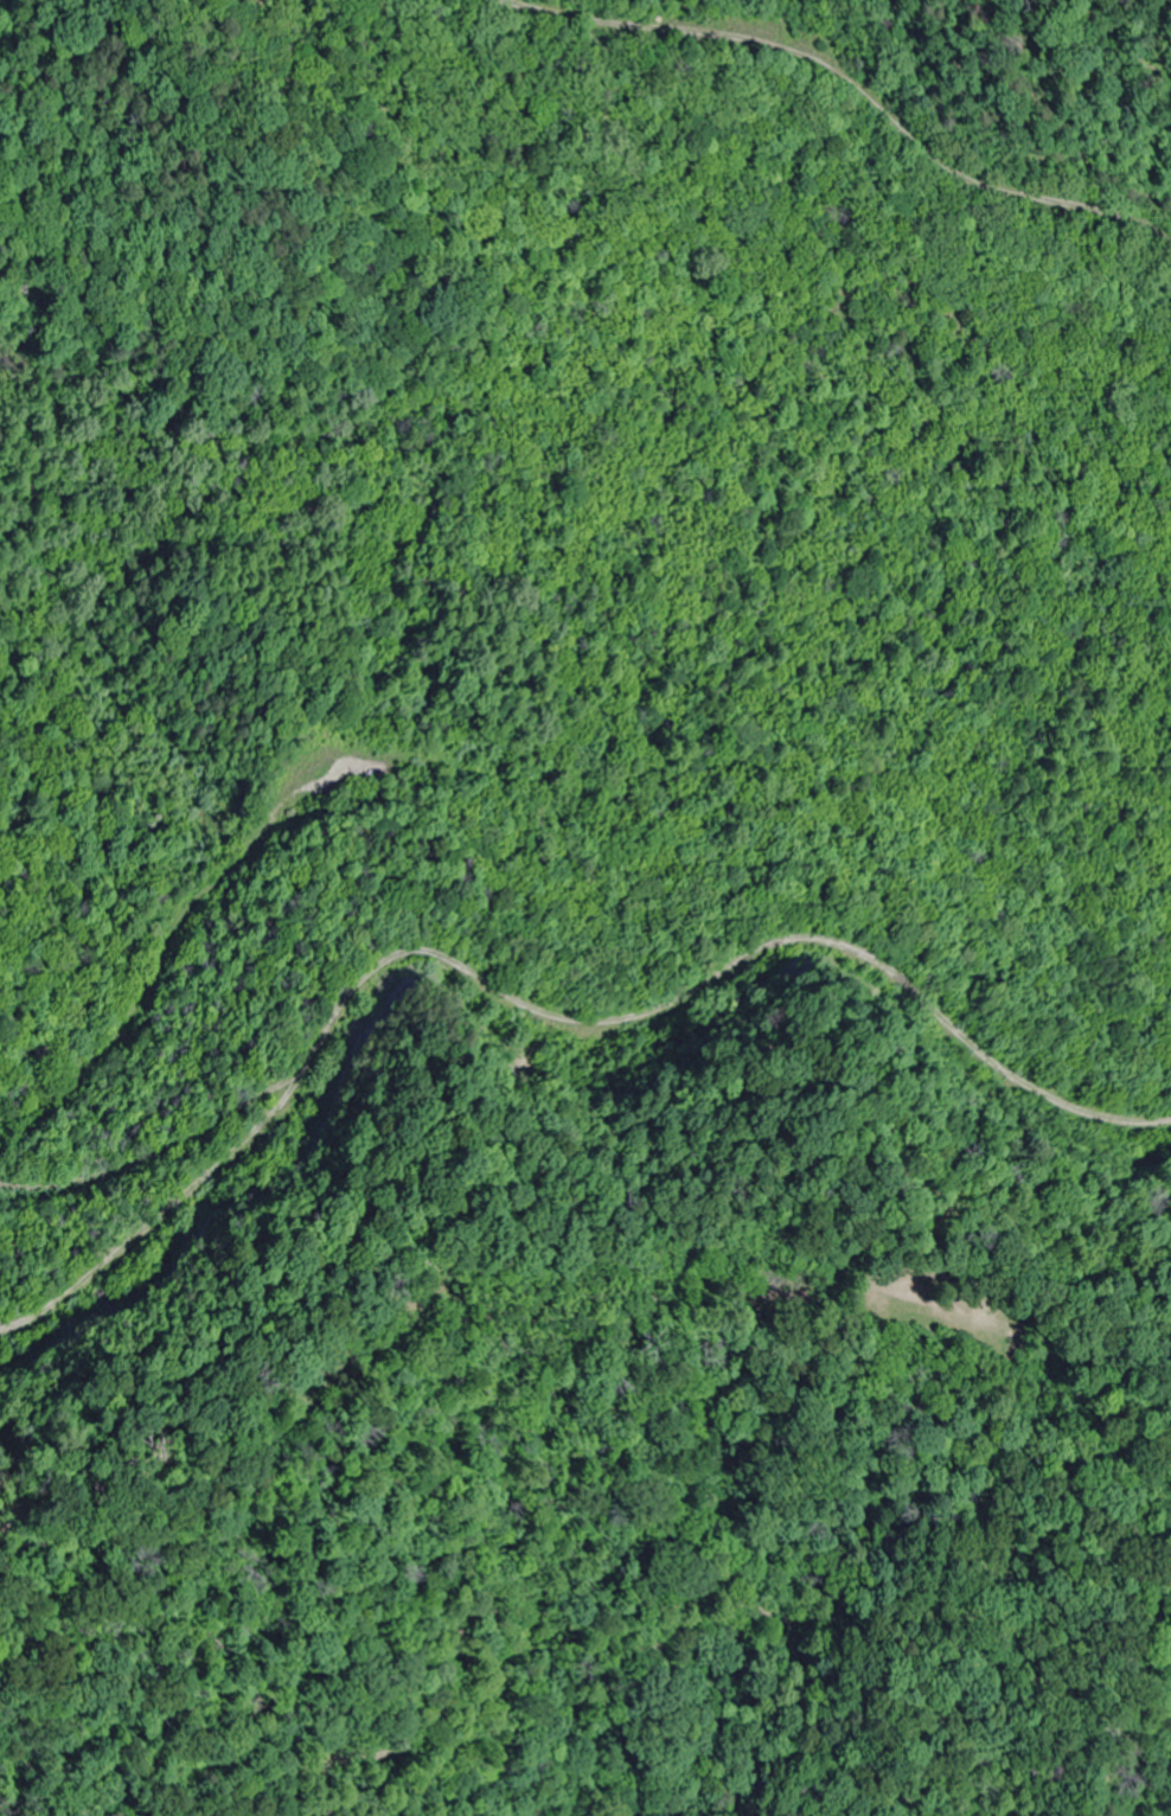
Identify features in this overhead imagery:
building: (612, 1811)
road: (271, 1812)

